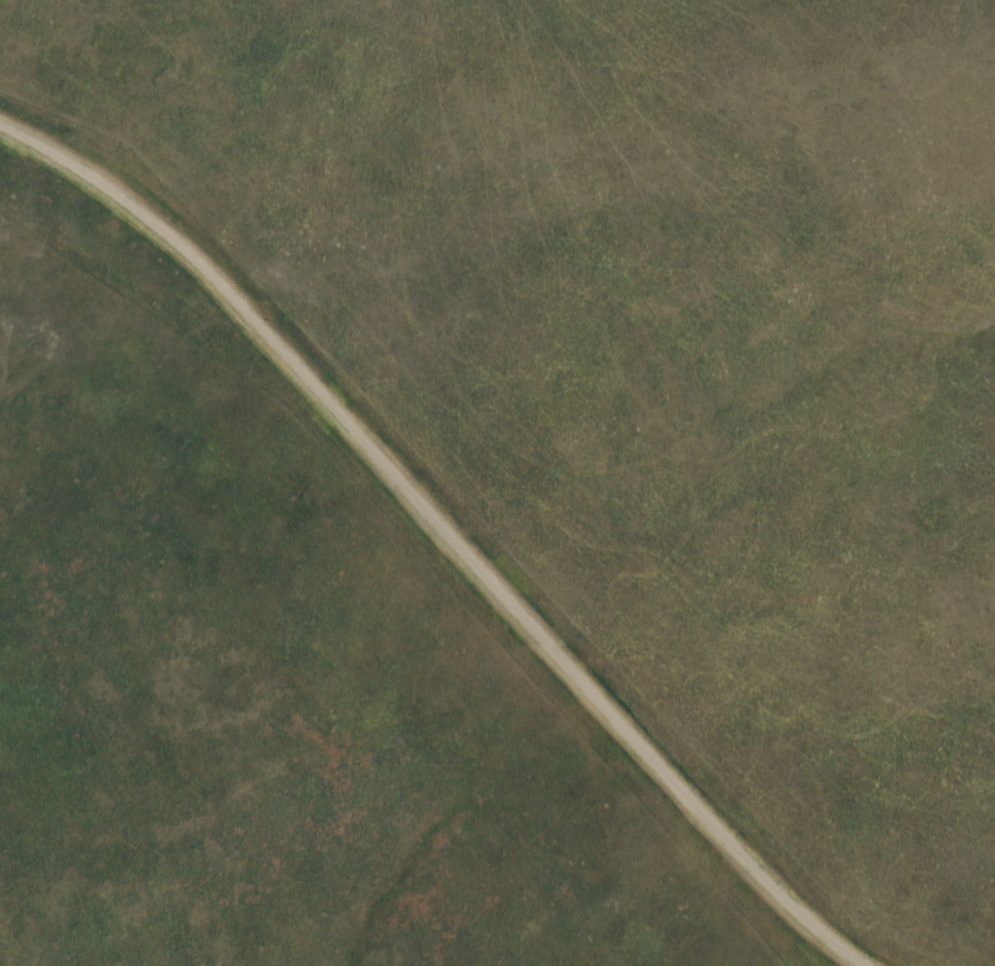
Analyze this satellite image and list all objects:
road: (443, 533)

